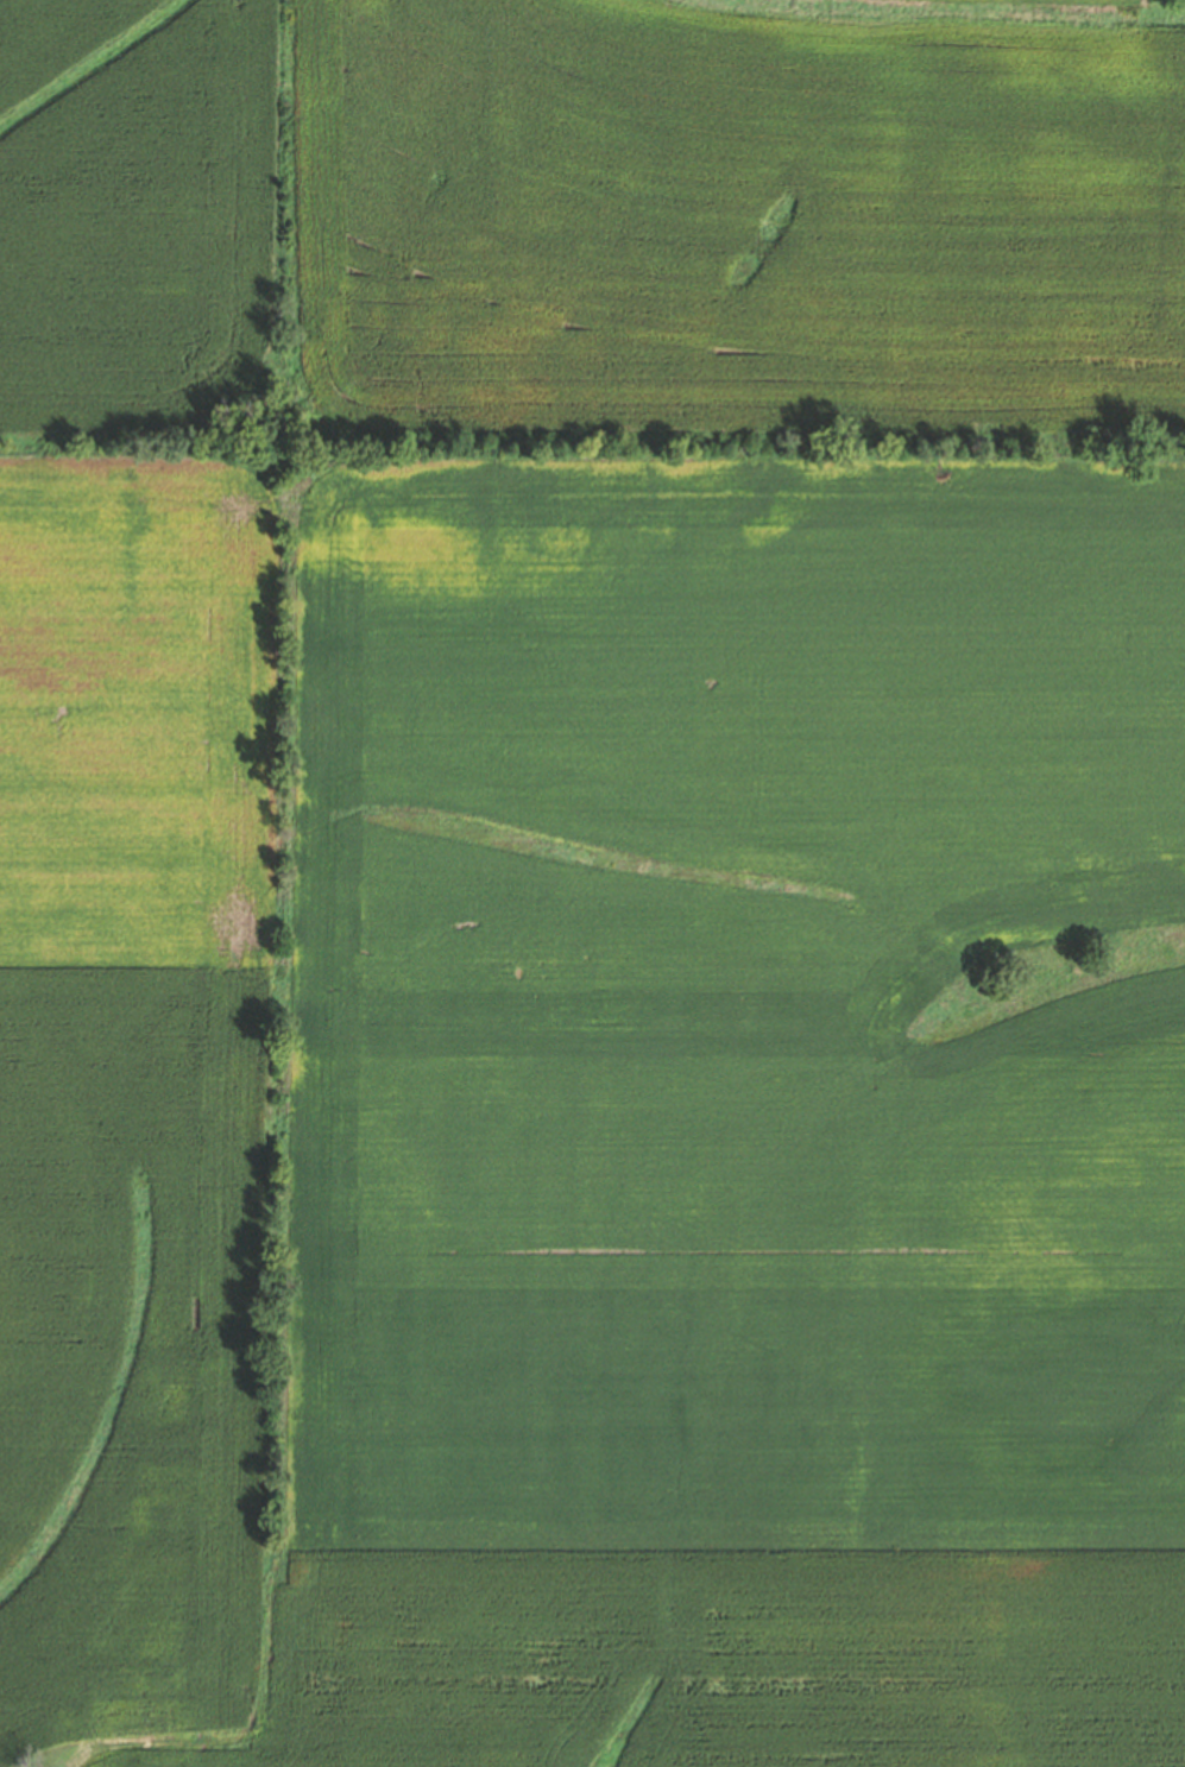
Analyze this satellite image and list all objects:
road: (259, 1420)

